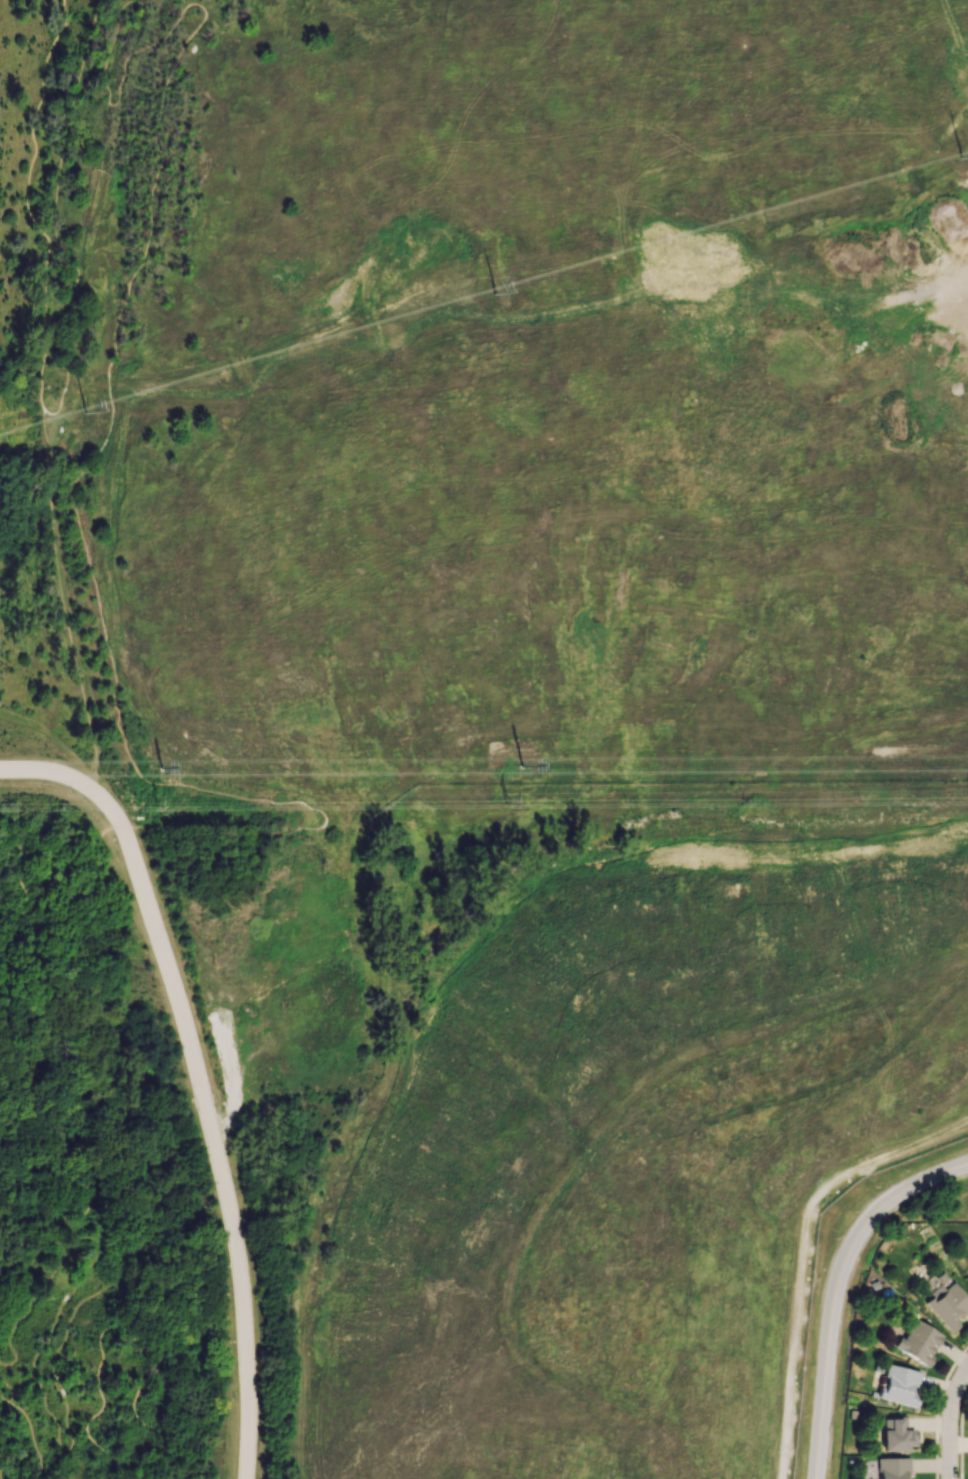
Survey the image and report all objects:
road: (56, 31)
power tower: (961, 158)
road: (60, 207)
power tower: (493, 294)
road: (42, 329)
landfill: (589, 362)
power tower: (85, 412)
road: (90, 556)
road: (69, 626)
power tower: (525, 771)
power tower: (157, 773)
road: (74, 779)
power tower: (506, 800)
power tower: (155, 802)
road: (111, 837)
road: (25, 873)
road: (98, 1012)
road: (159, 1104)
road: (18, 1121)
road: (217, 1151)
road: (84, 1212)
road: (139, 1260)
road: (836, 1287)
building: (947, 1305)
building: (918, 1342)
road: (7, 1382)
building: (899, 1385)
road: (952, 1426)
road: (31, 1429)
building: (895, 1436)
road: (4, 1460)
building: (893, 1468)

